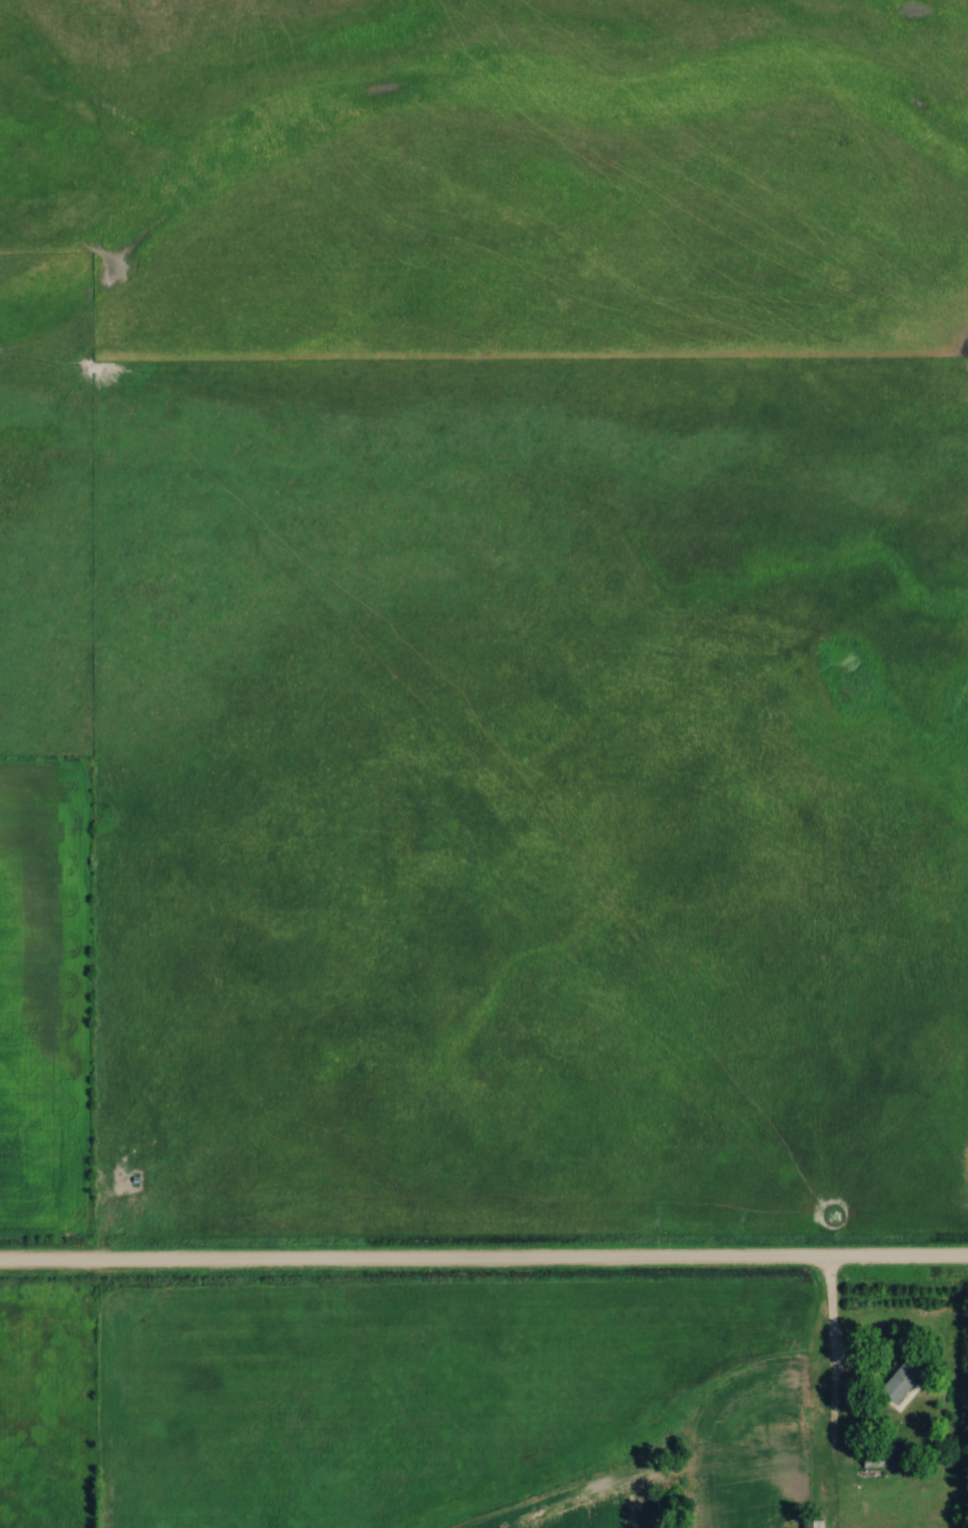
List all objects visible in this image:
road: (484, 1264)
building: (785, 1378)
road: (831, 1380)
building: (905, 1383)
building: (875, 1461)
building: (915, 1485)

